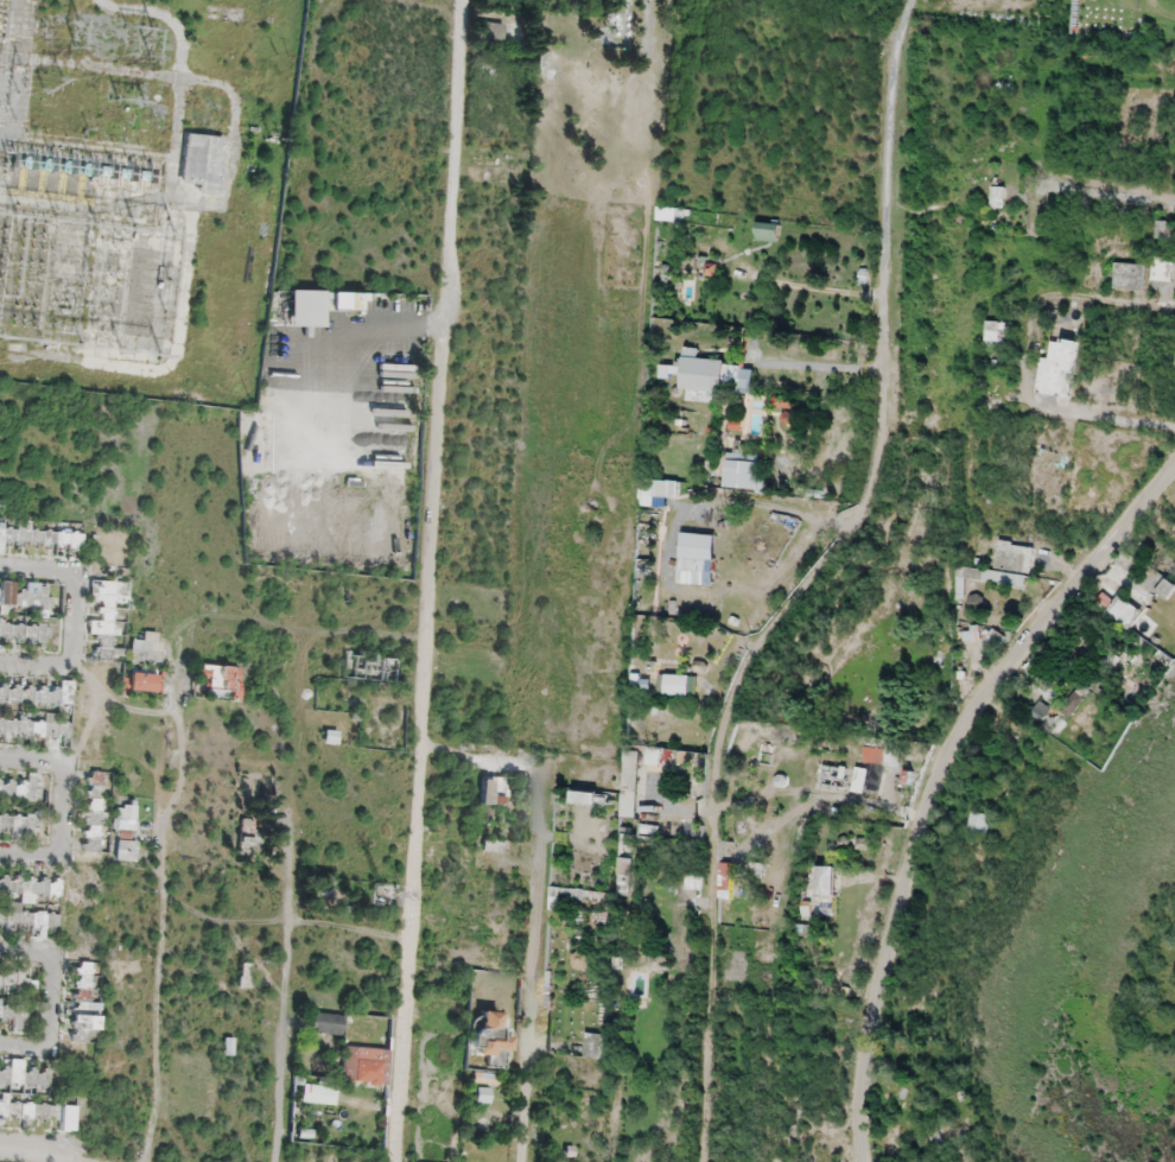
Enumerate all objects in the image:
power substation: (141, 185)

